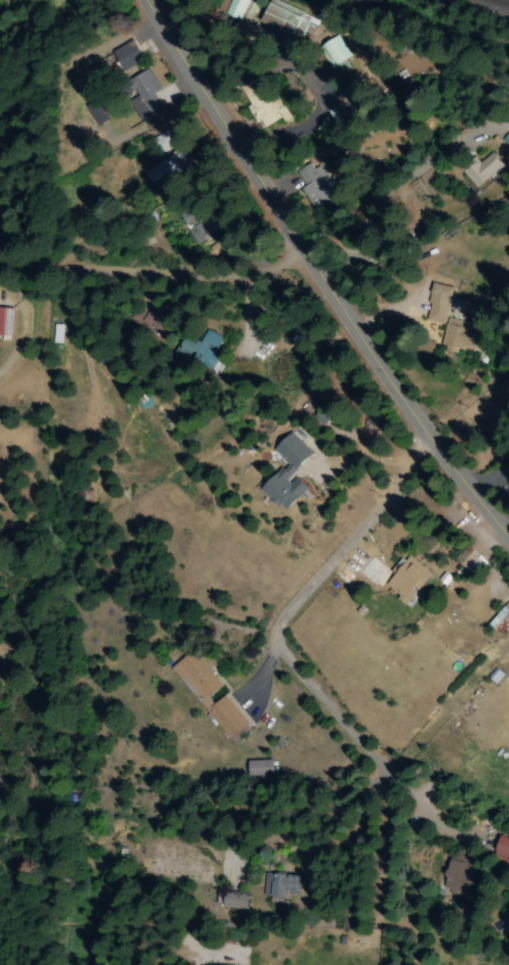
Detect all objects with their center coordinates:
railway: (500, 2)
building: (234, 8)
building: (285, 20)
building: (335, 53)
building: (126, 55)
building: (142, 93)
building: (262, 105)
building: (98, 111)
building: (167, 167)
building: (479, 169)
building: (314, 186)
road: (323, 270)
road: (164, 271)
building: (438, 303)
building: (5, 323)
building: (461, 335)
building: (200, 349)
building: (286, 473)
building: (469, 560)
building: (406, 579)
building: (501, 619)
road: (286, 638)
building: (495, 676)
building: (208, 693)
building: (259, 768)
building: (502, 846)
road: (378, 854)
building: (458, 878)
building: (276, 885)
building: (234, 900)

